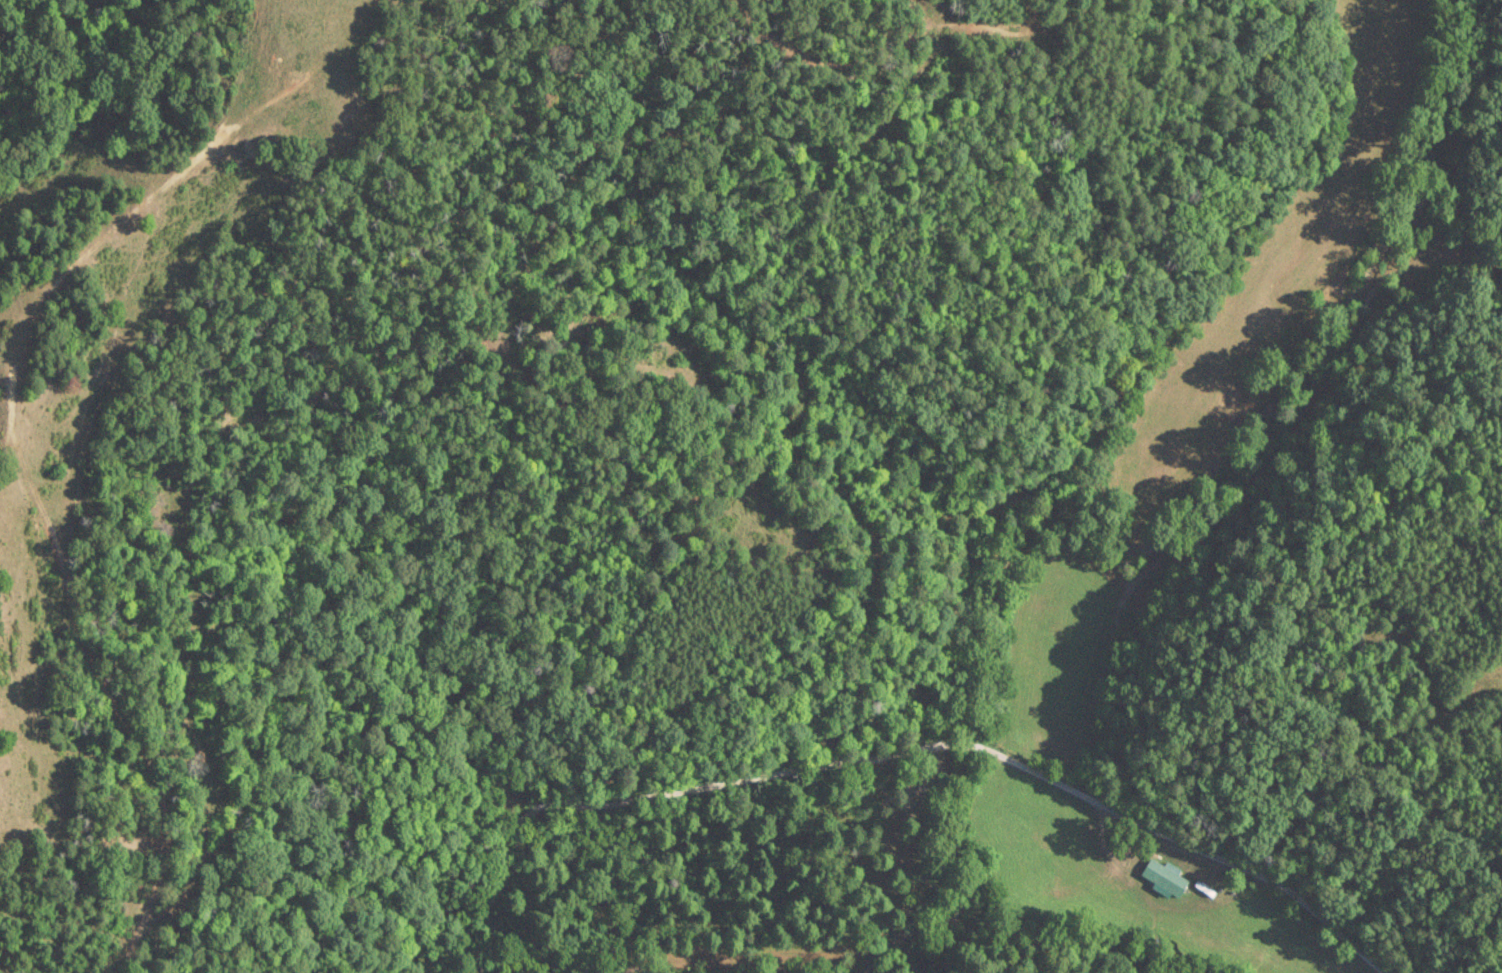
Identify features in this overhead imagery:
road: (862, 771)
building: (1168, 875)

